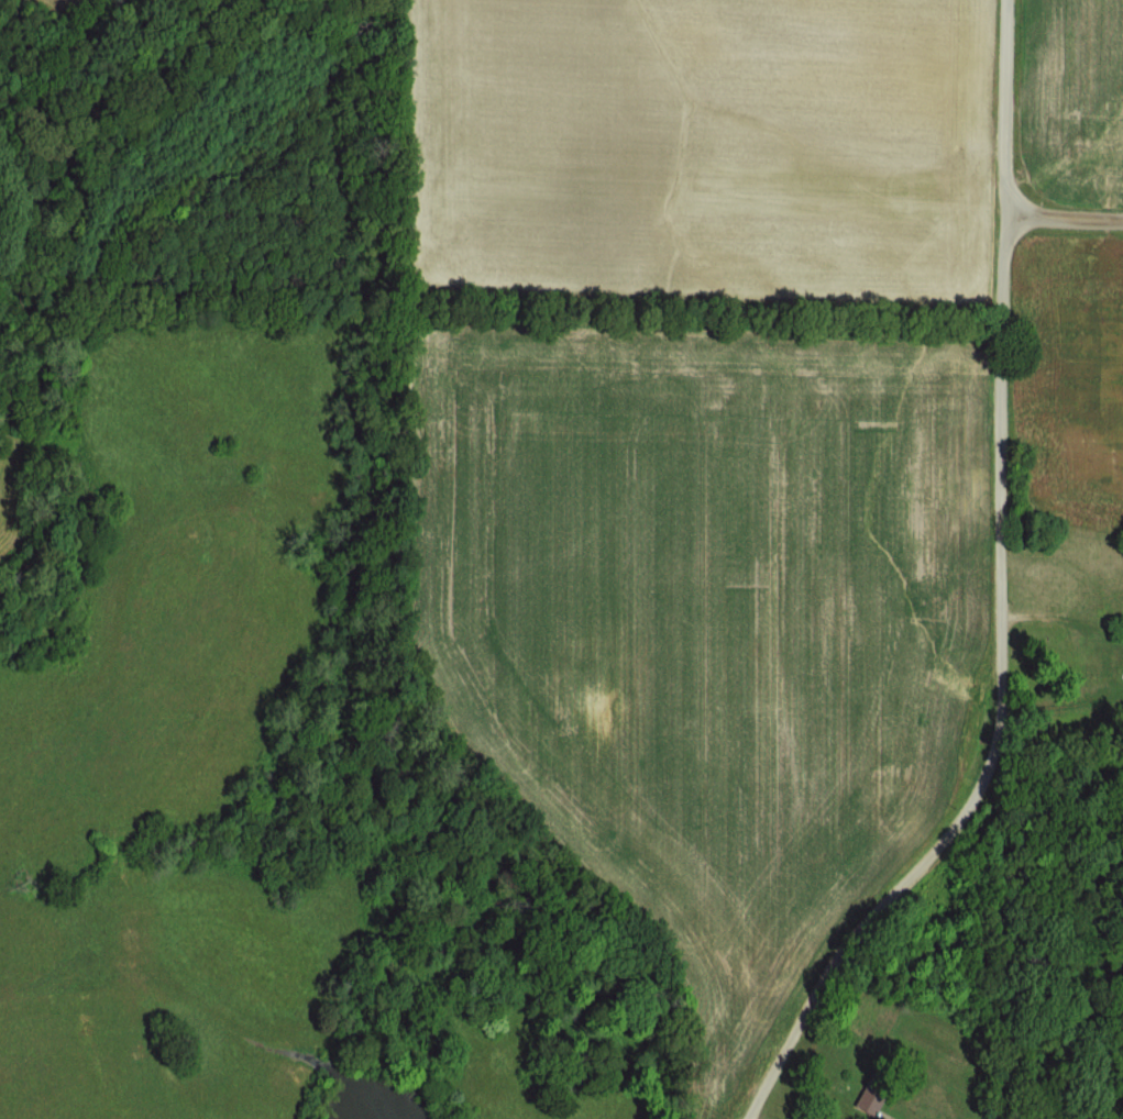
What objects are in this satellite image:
road: (1063, 218)
road: (1002, 598)
building: (880, 1096)

